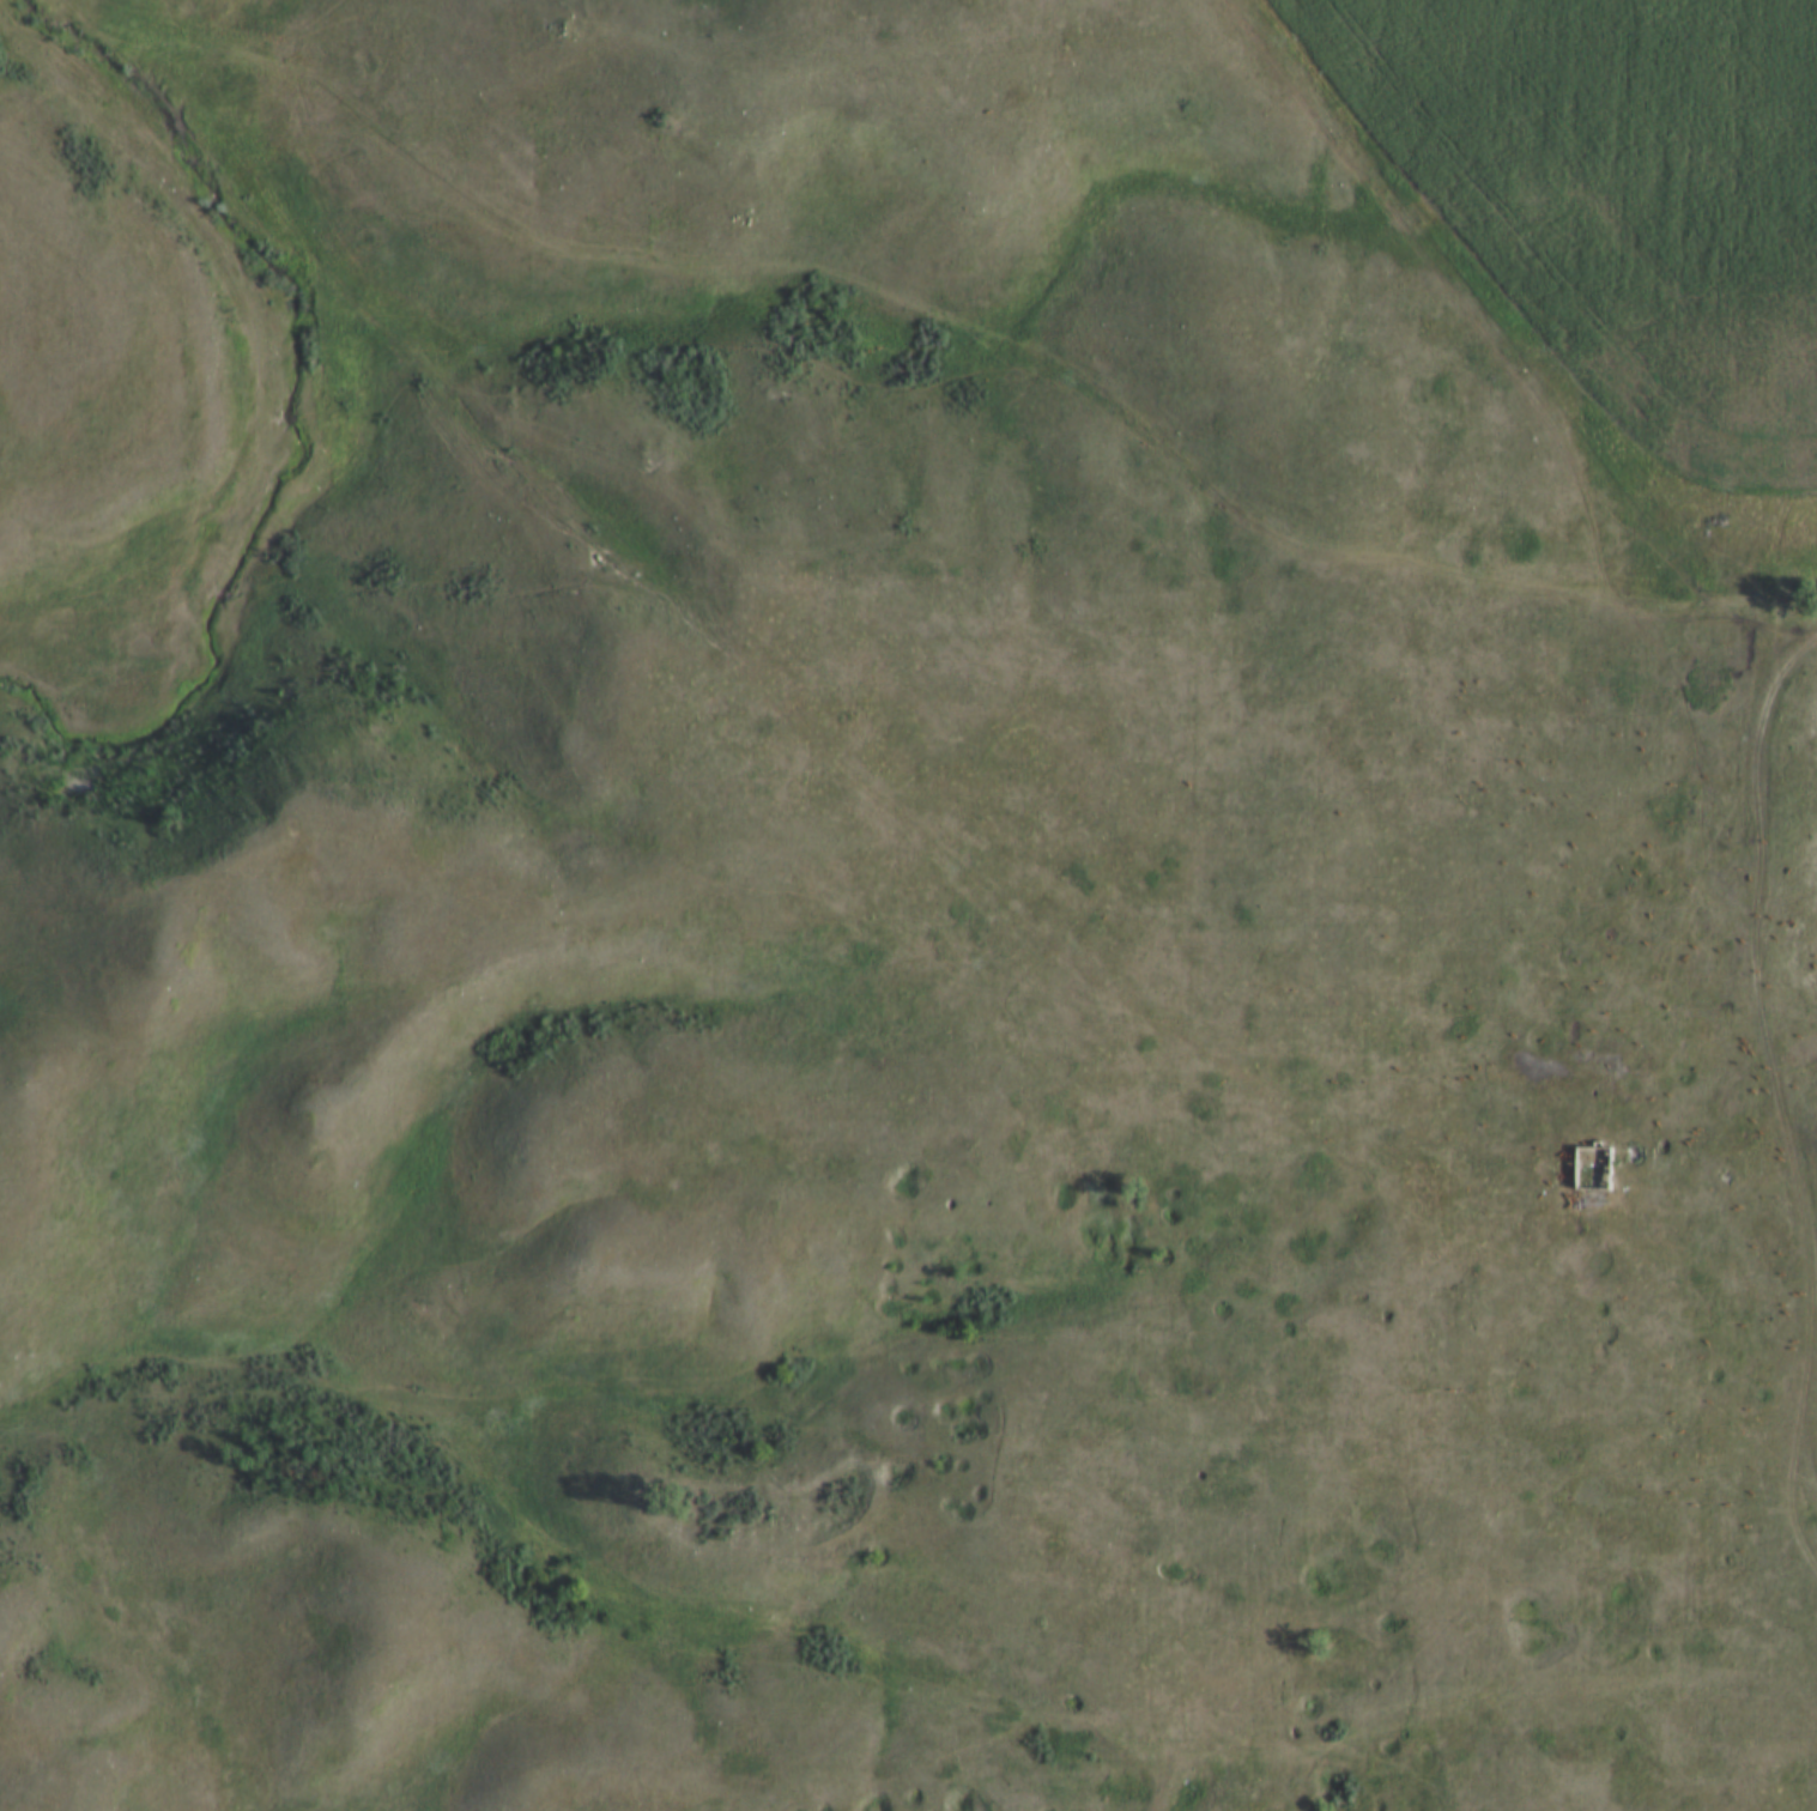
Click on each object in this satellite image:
road: (1719, 102)
road: (1775, 1098)

